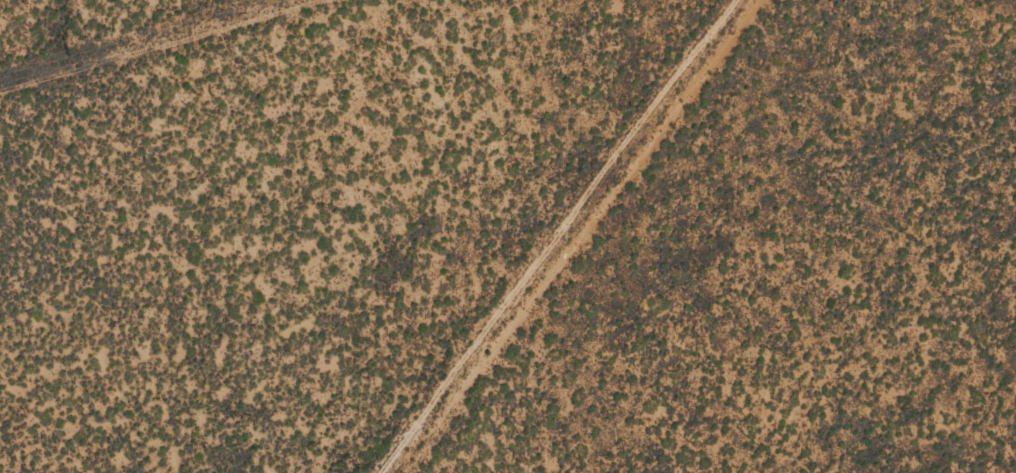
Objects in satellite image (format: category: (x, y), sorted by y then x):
power tower: (72, 61)

